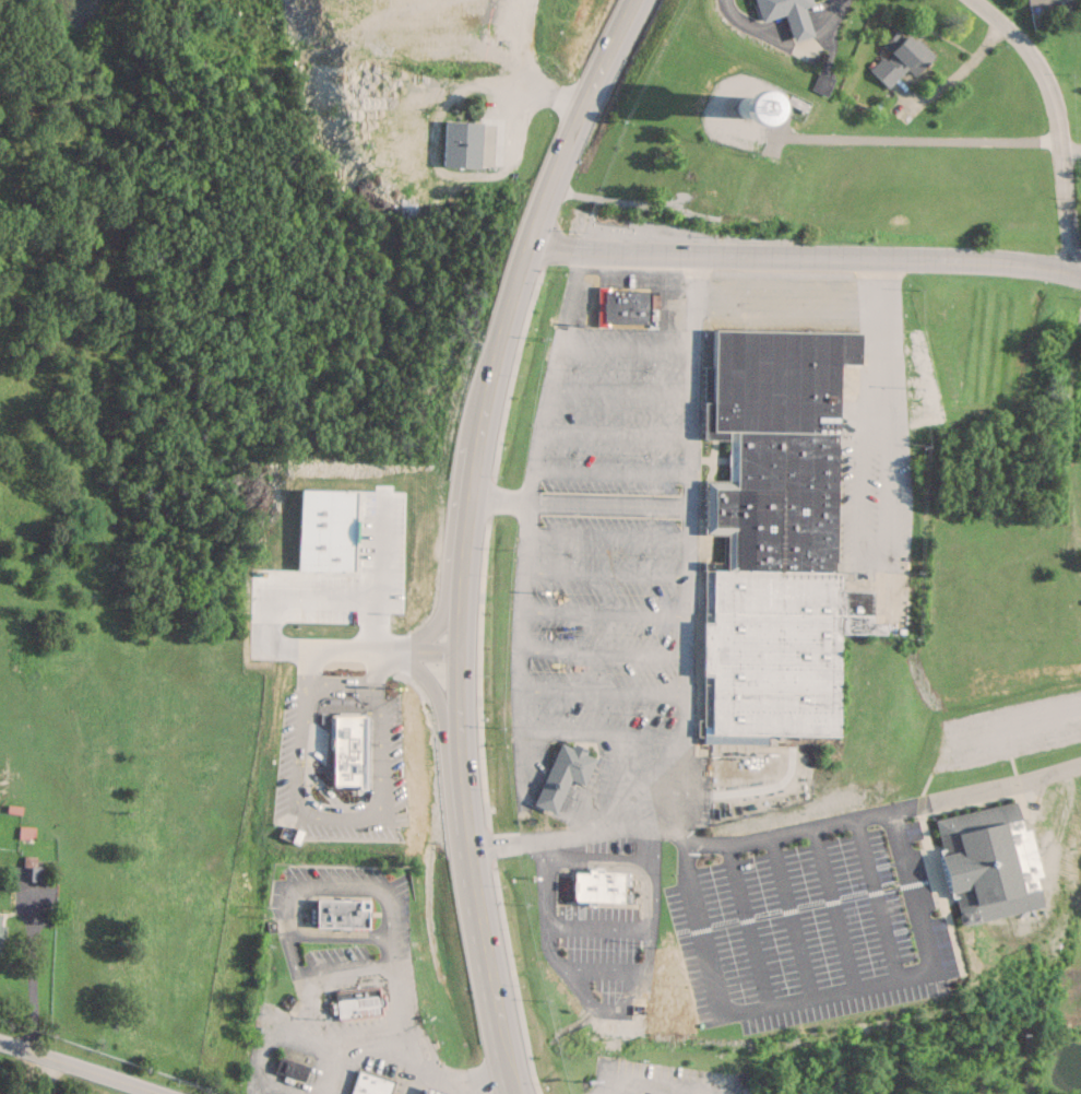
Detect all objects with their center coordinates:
building: (1046, 2)
building: (785, 14)
road: (783, 33)
road: (521, 45)
building: (900, 59)
road: (961, 75)
road: (524, 94)
road: (1054, 119)
building: (459, 143)
road: (919, 143)
road: (1069, 152)
building: (711, 186)
water tower: (753, 192)
street lamp: (578, 231)
road: (799, 256)
road: (1076, 273)
street lamp: (1080, 297)
building: (627, 306)
road: (876, 345)
road: (694, 380)
road: (1072, 428)
building: (1080, 435)
road: (526, 491)
road: (463, 534)
building: (773, 538)
building: (358, 602)
road: (377, 654)
road: (684, 659)
road: (606, 736)
building: (562, 778)
road: (869, 813)
road: (356, 824)
building: (977, 864)
building: (597, 886)
road: (871, 897)
road: (828, 906)
building: (340, 913)
road: (785, 916)
parking lot: (804, 919)
road: (744, 924)
road: (696, 928)
road: (900, 974)
building: (357, 1003)
road: (82, 1066)
building: (290, 1069)
road: (37, 1072)
parking lot: (657, 1078)
road: (453, 1082)
building: (369, 1084)
road: (645, 1084)
building: (741, 1090)
building: (429, 1091)
gas station: (432, 1091)

